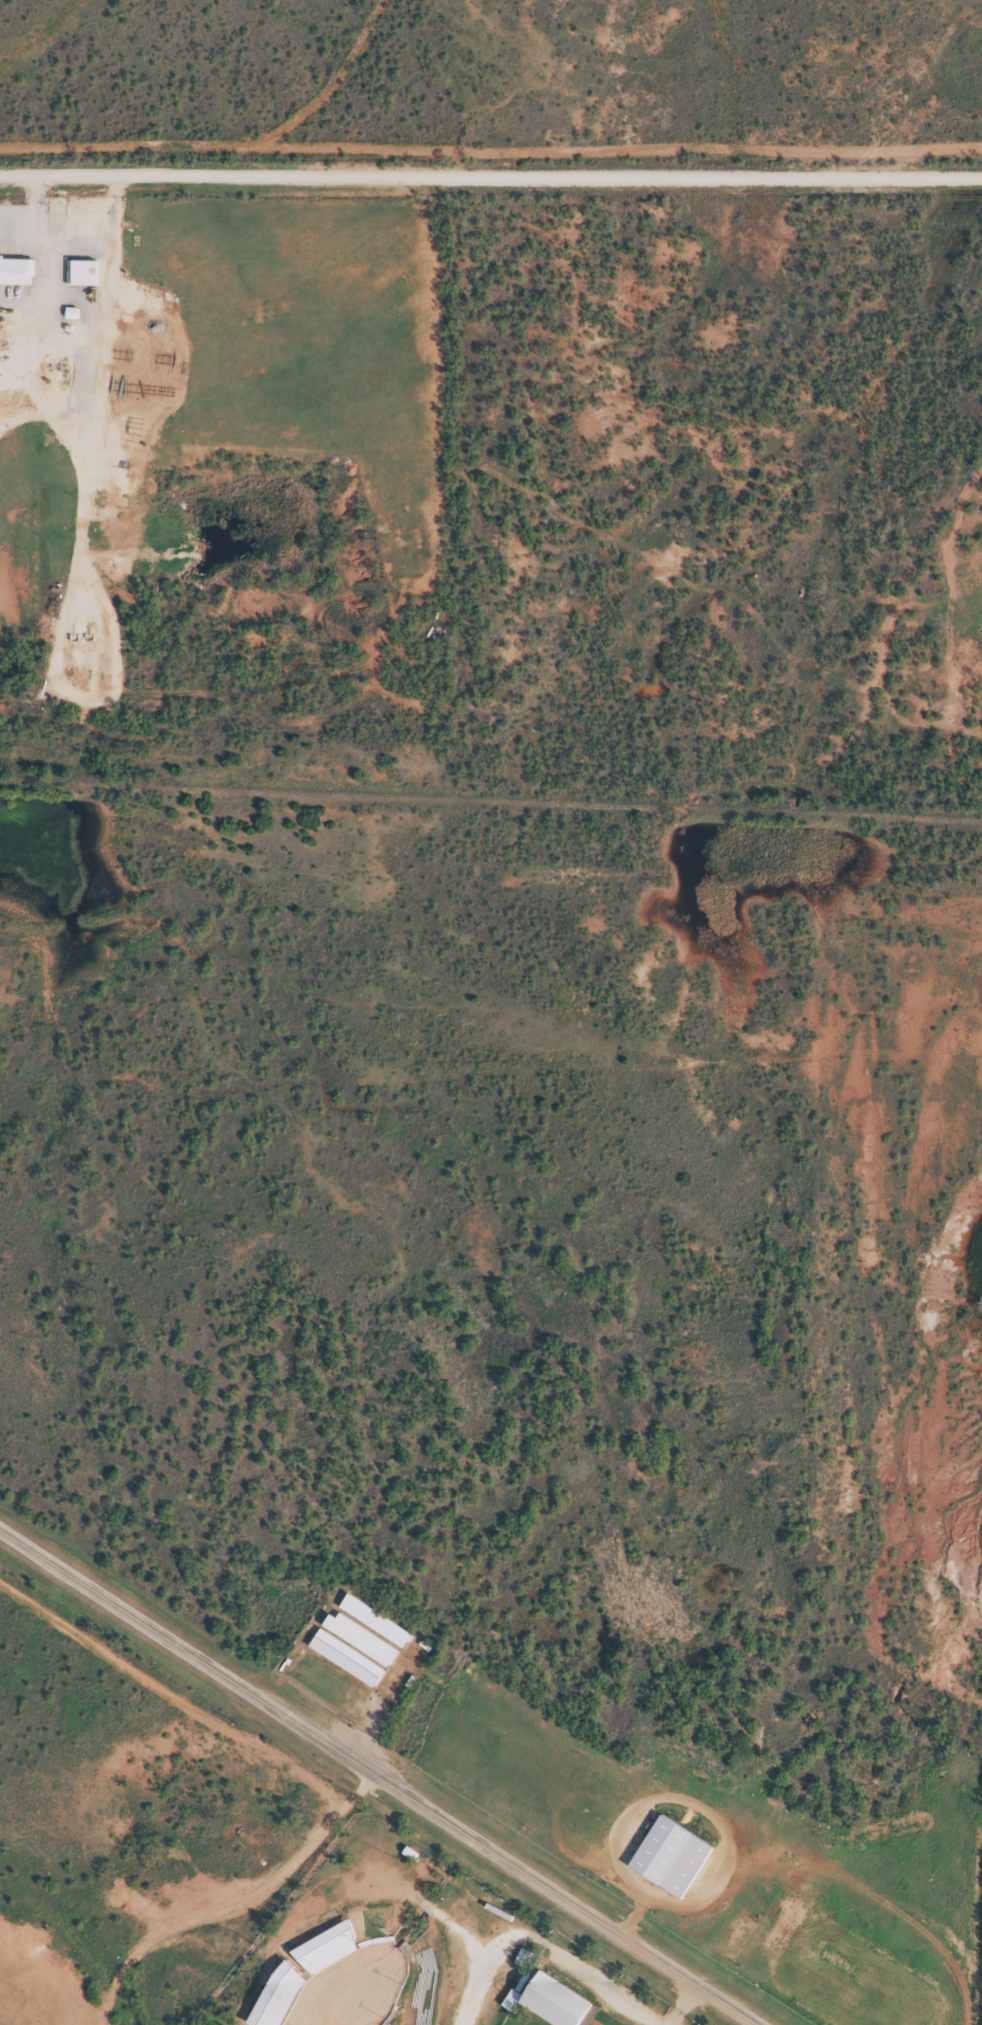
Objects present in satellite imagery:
road: (491, 175)
building: (16, 279)
building: (81, 280)
railway: (490, 783)
building: (357, 1648)
road: (369, 1781)
building: (670, 1864)
road: (239, 1914)
road: (543, 1950)
building: (327, 1956)
building: (280, 2000)
building: (551, 2007)
road: (683, 2010)

